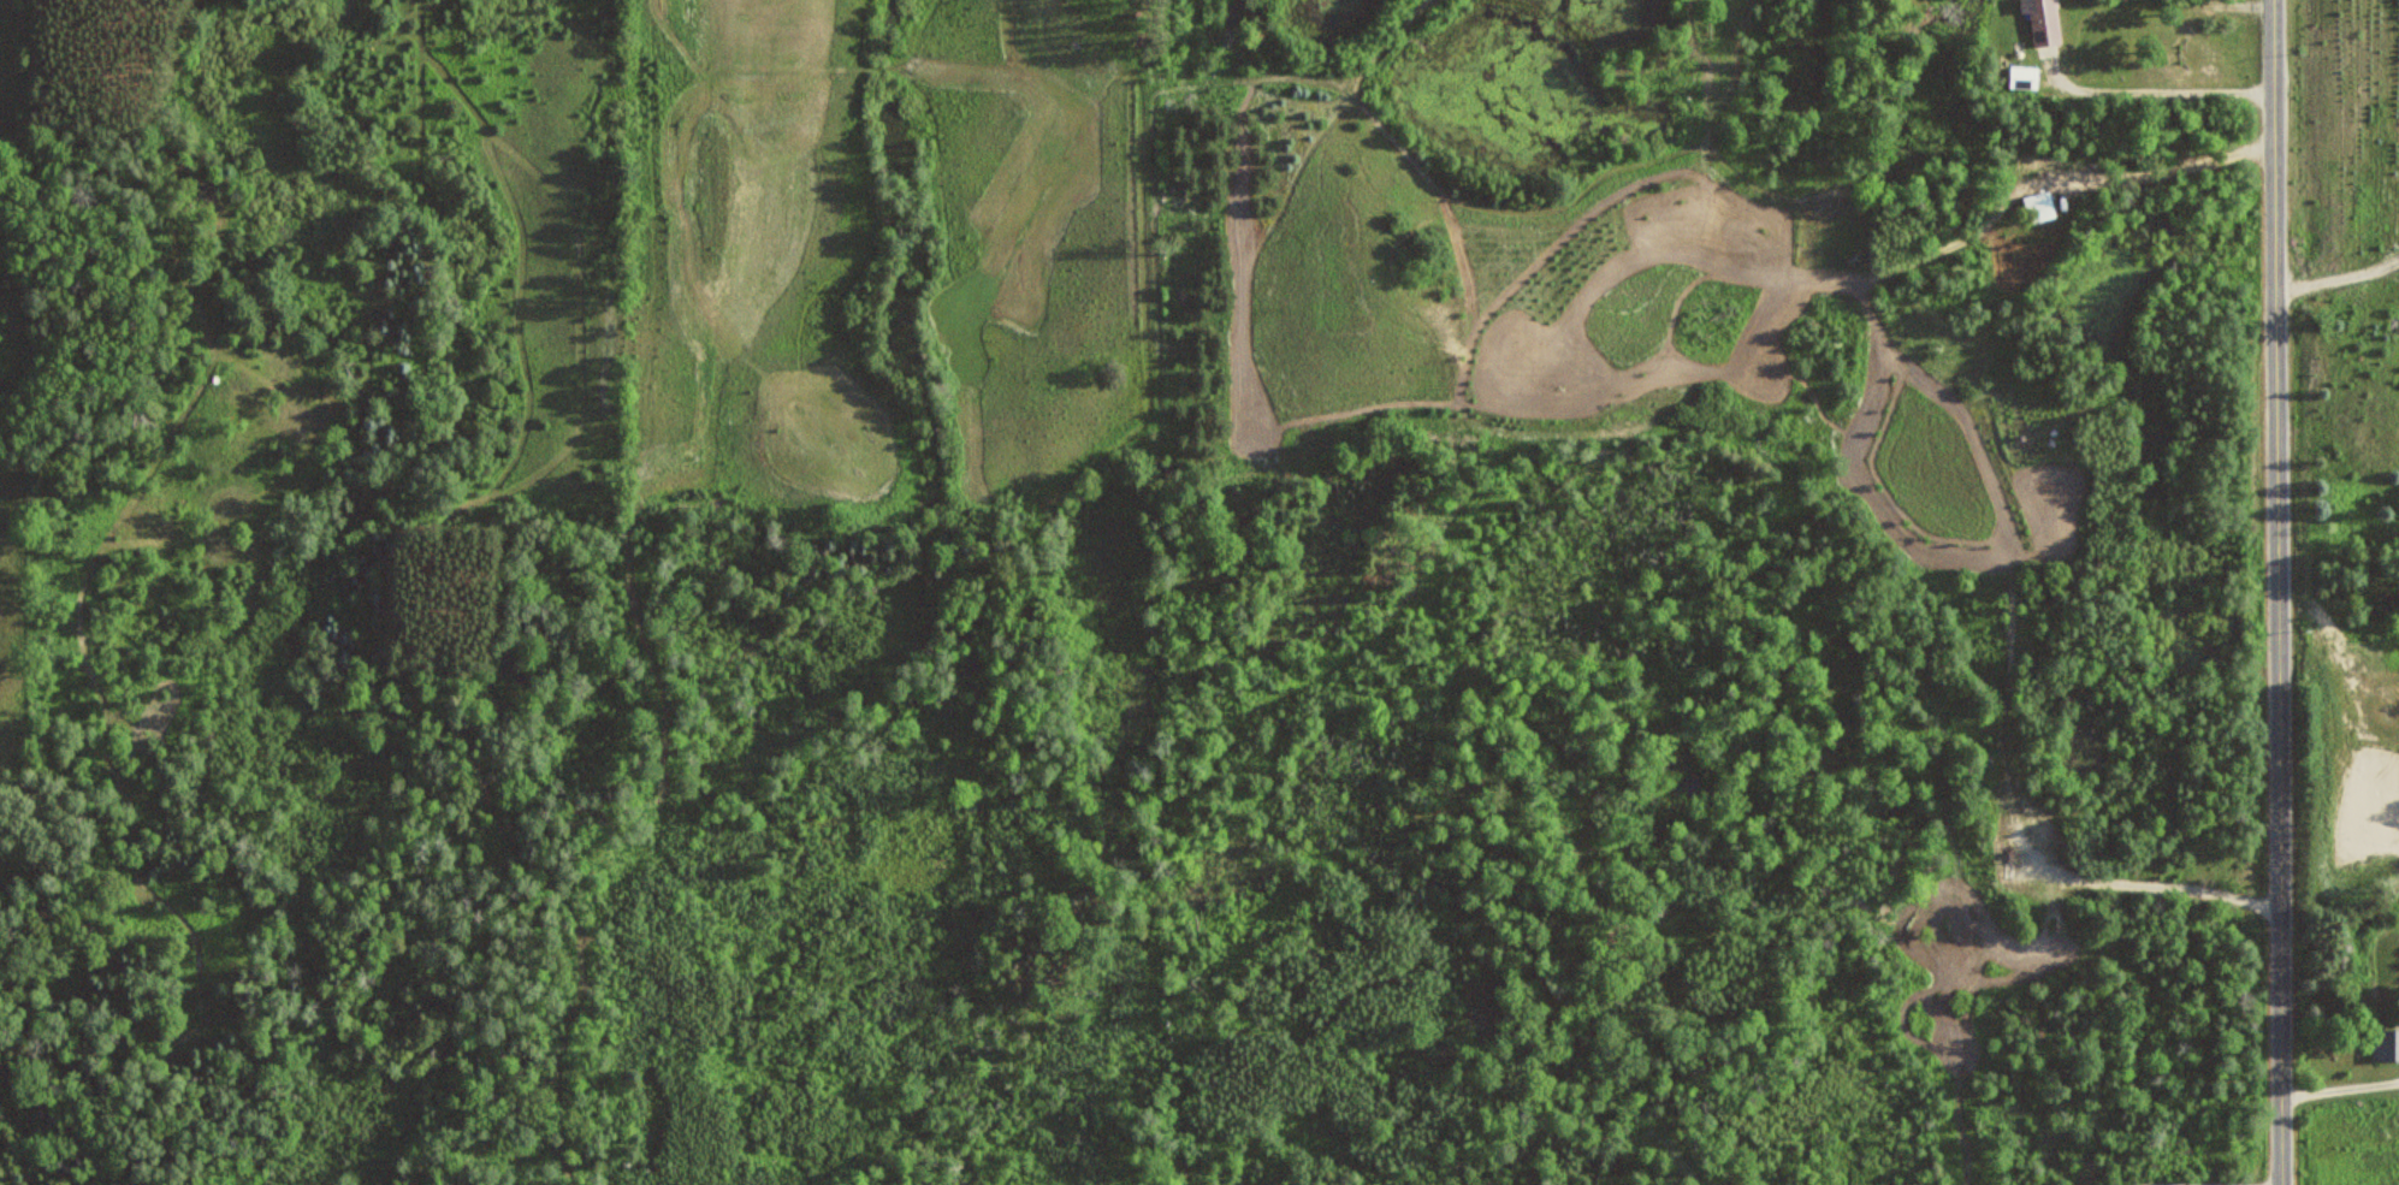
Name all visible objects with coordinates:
building: (2044, 20)
building: (2025, 76)
building: (2040, 206)
road: (2276, 592)
building: (2386, 1045)

